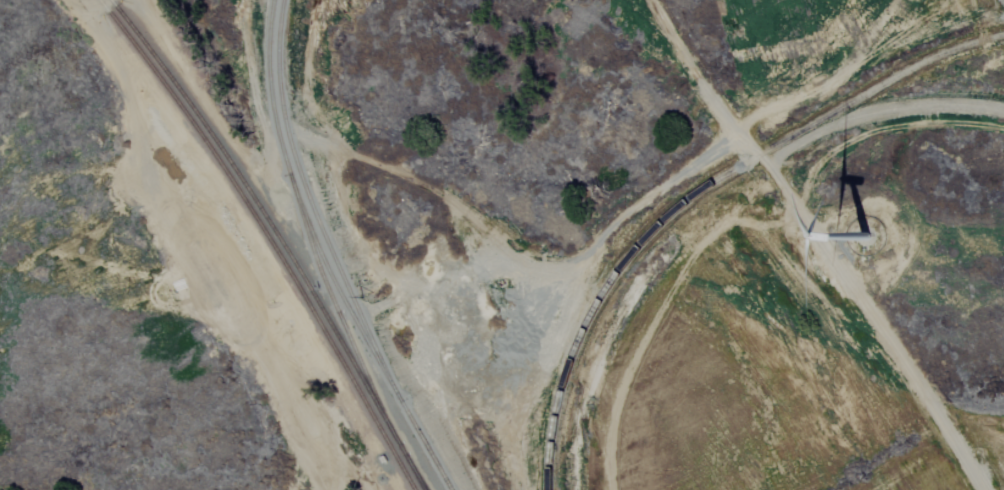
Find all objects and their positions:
railway: (219, 144)
railway: (209, 146)
railway: (689, 198)
railway: (306, 230)
wind turbine: (865, 236)
road: (819, 242)
railway: (330, 254)
road: (567, 269)
railway: (338, 292)
railway: (320, 306)
railway: (312, 310)
road: (308, 399)
railway: (375, 402)
railway: (366, 404)
railway: (415, 472)

